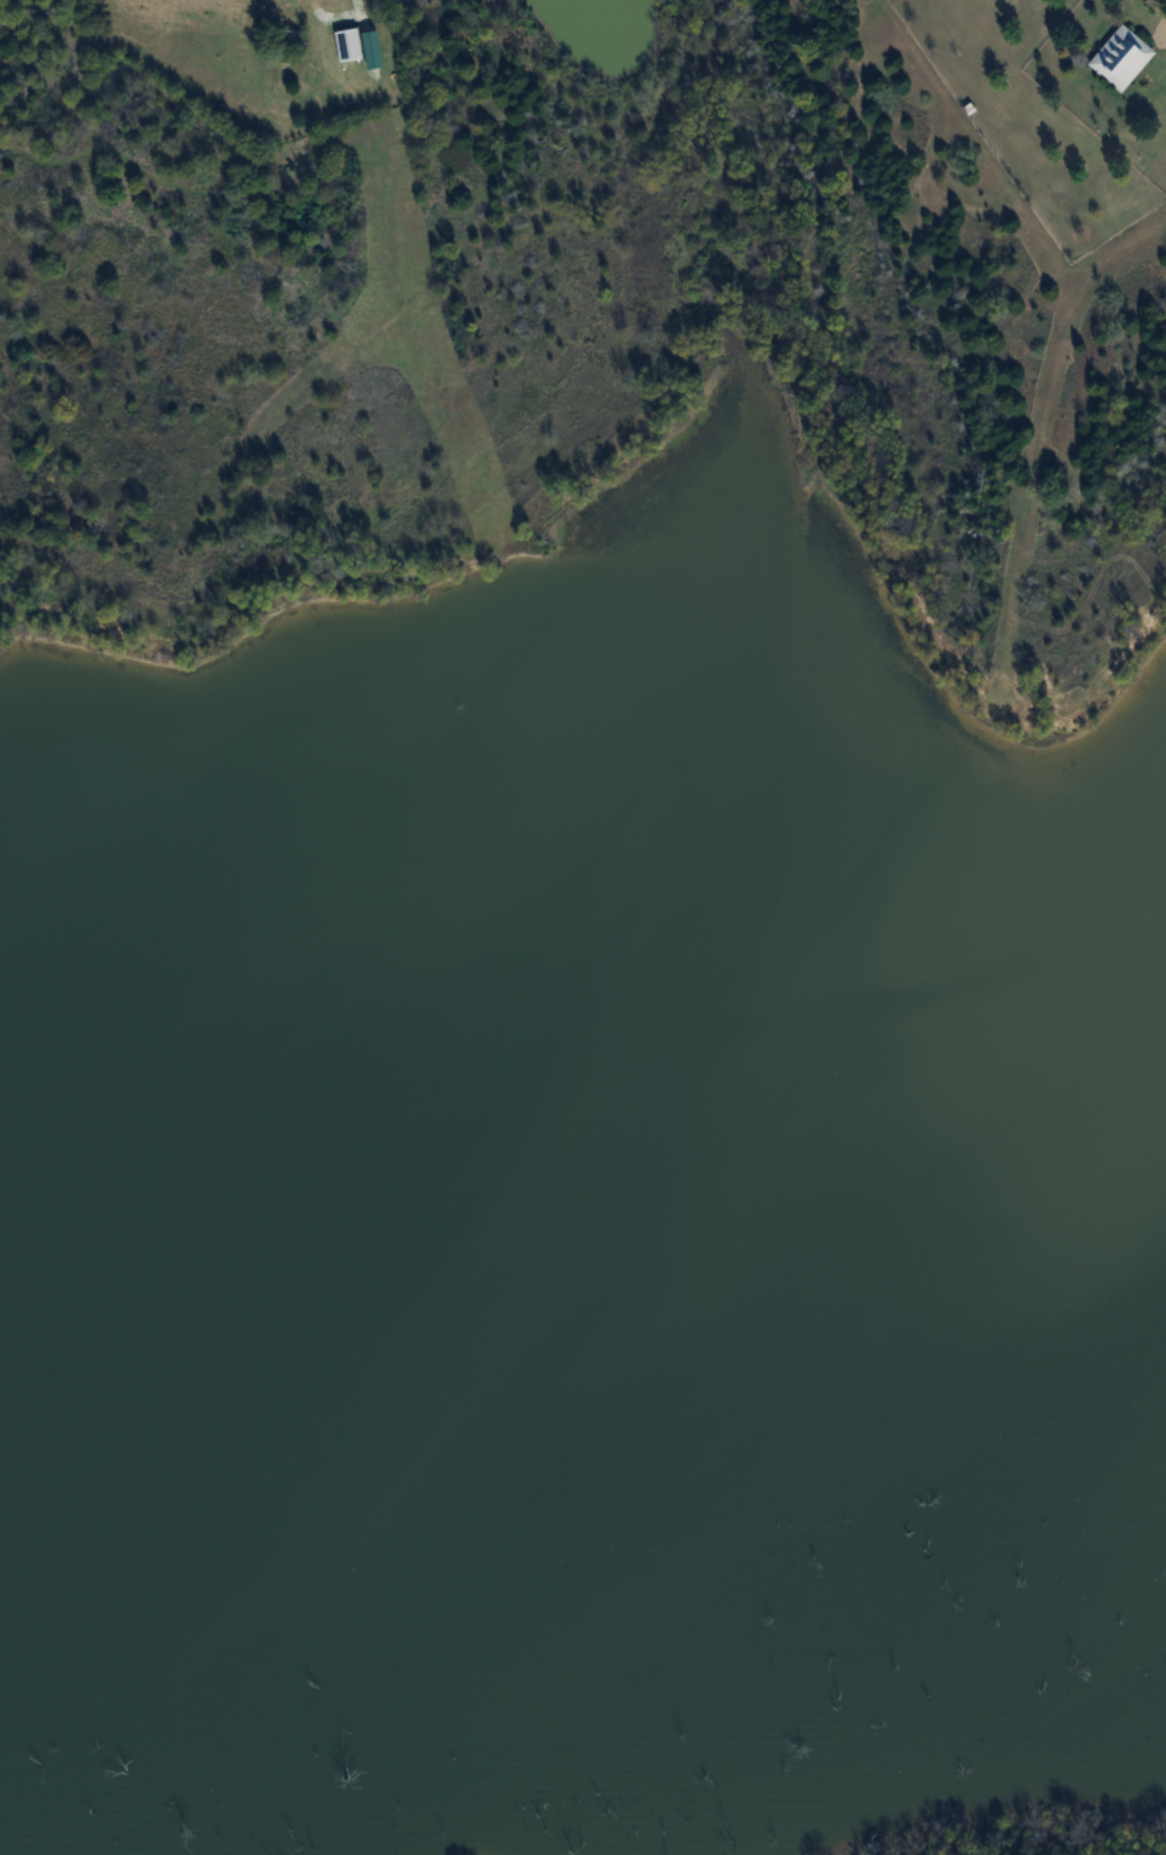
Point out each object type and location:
parking lot: (1156, 29)
road: (306, 30)
building: (294, 39)
building: (341, 39)
building: (1115, 51)

